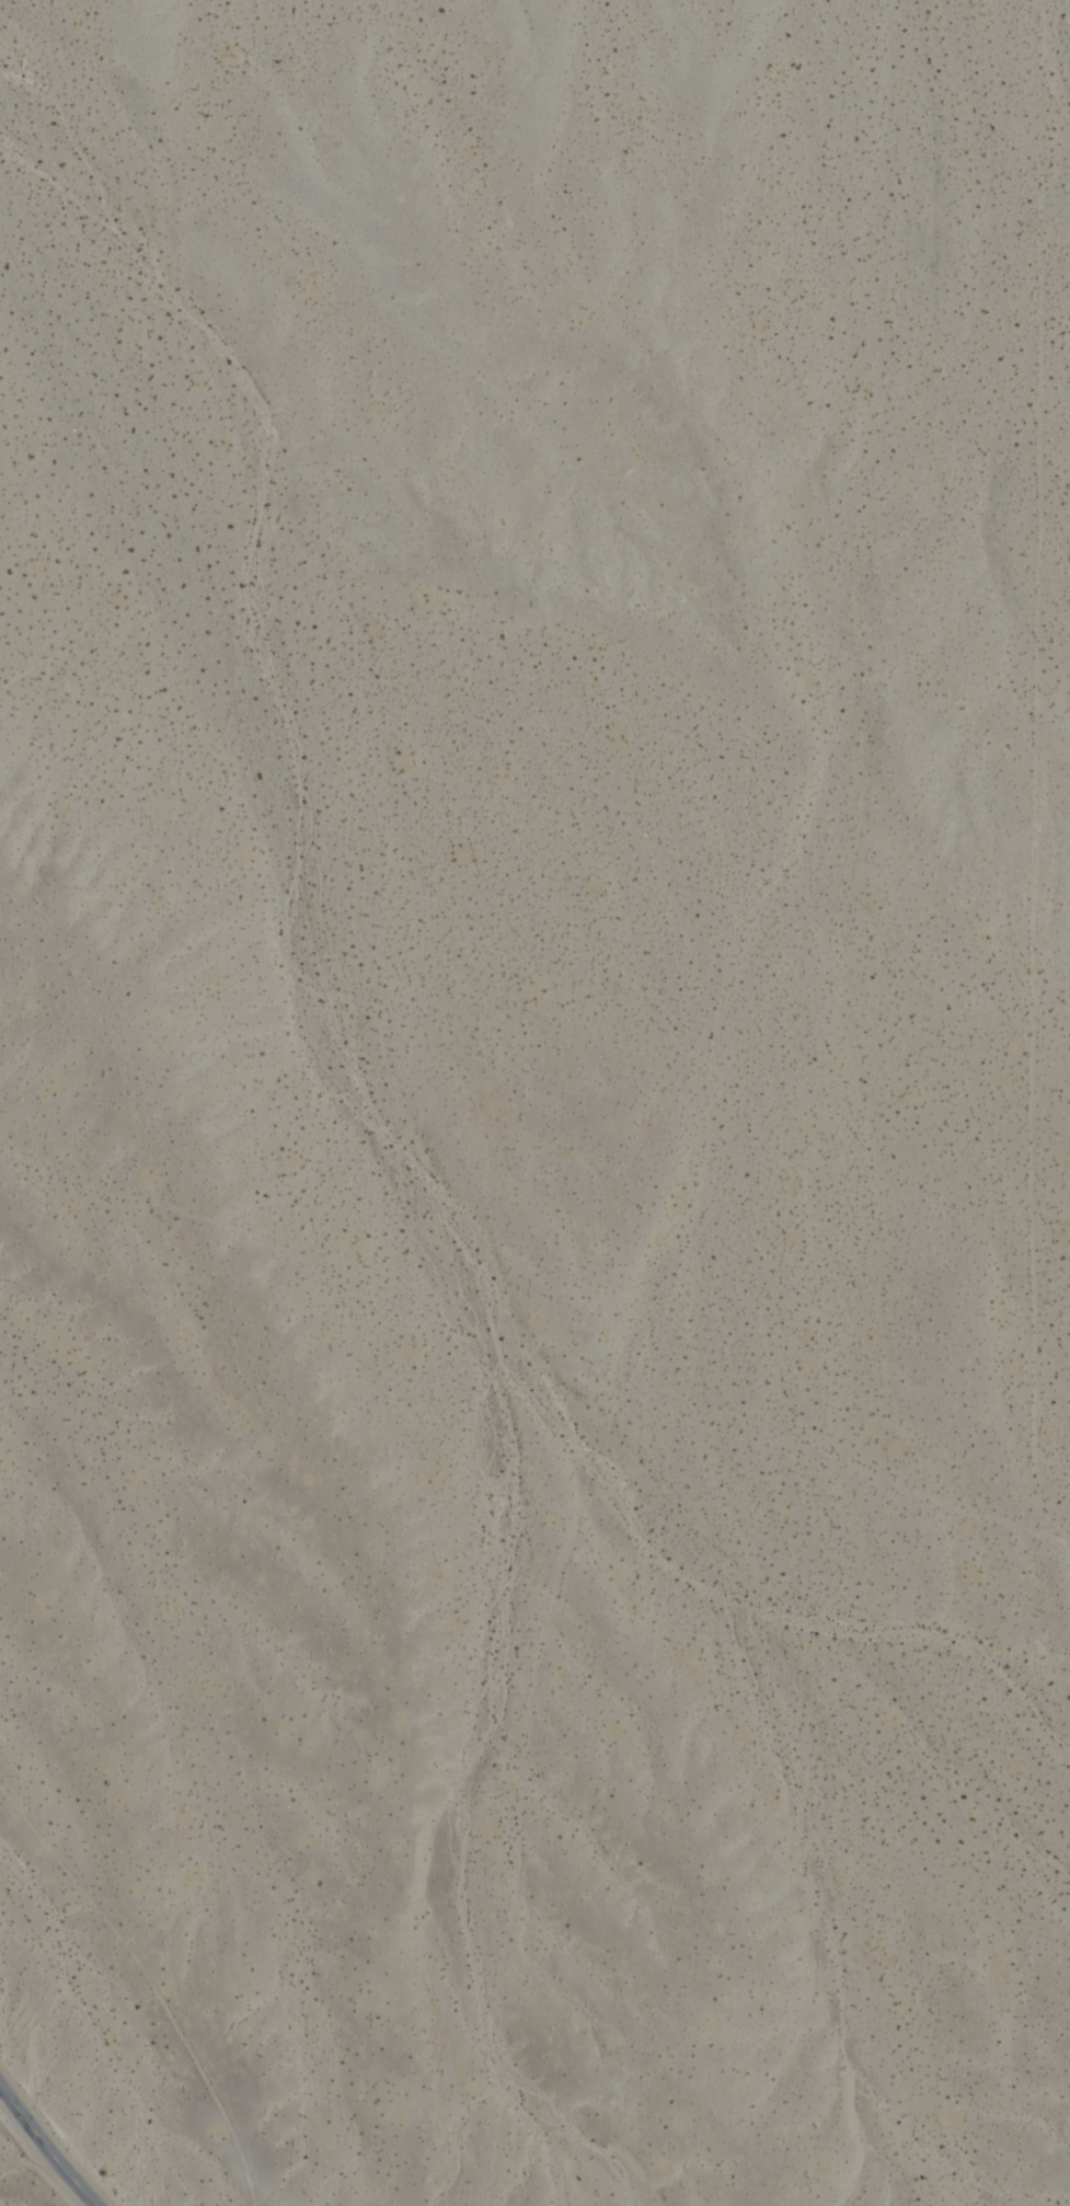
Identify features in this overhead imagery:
road: (50, 2141)

